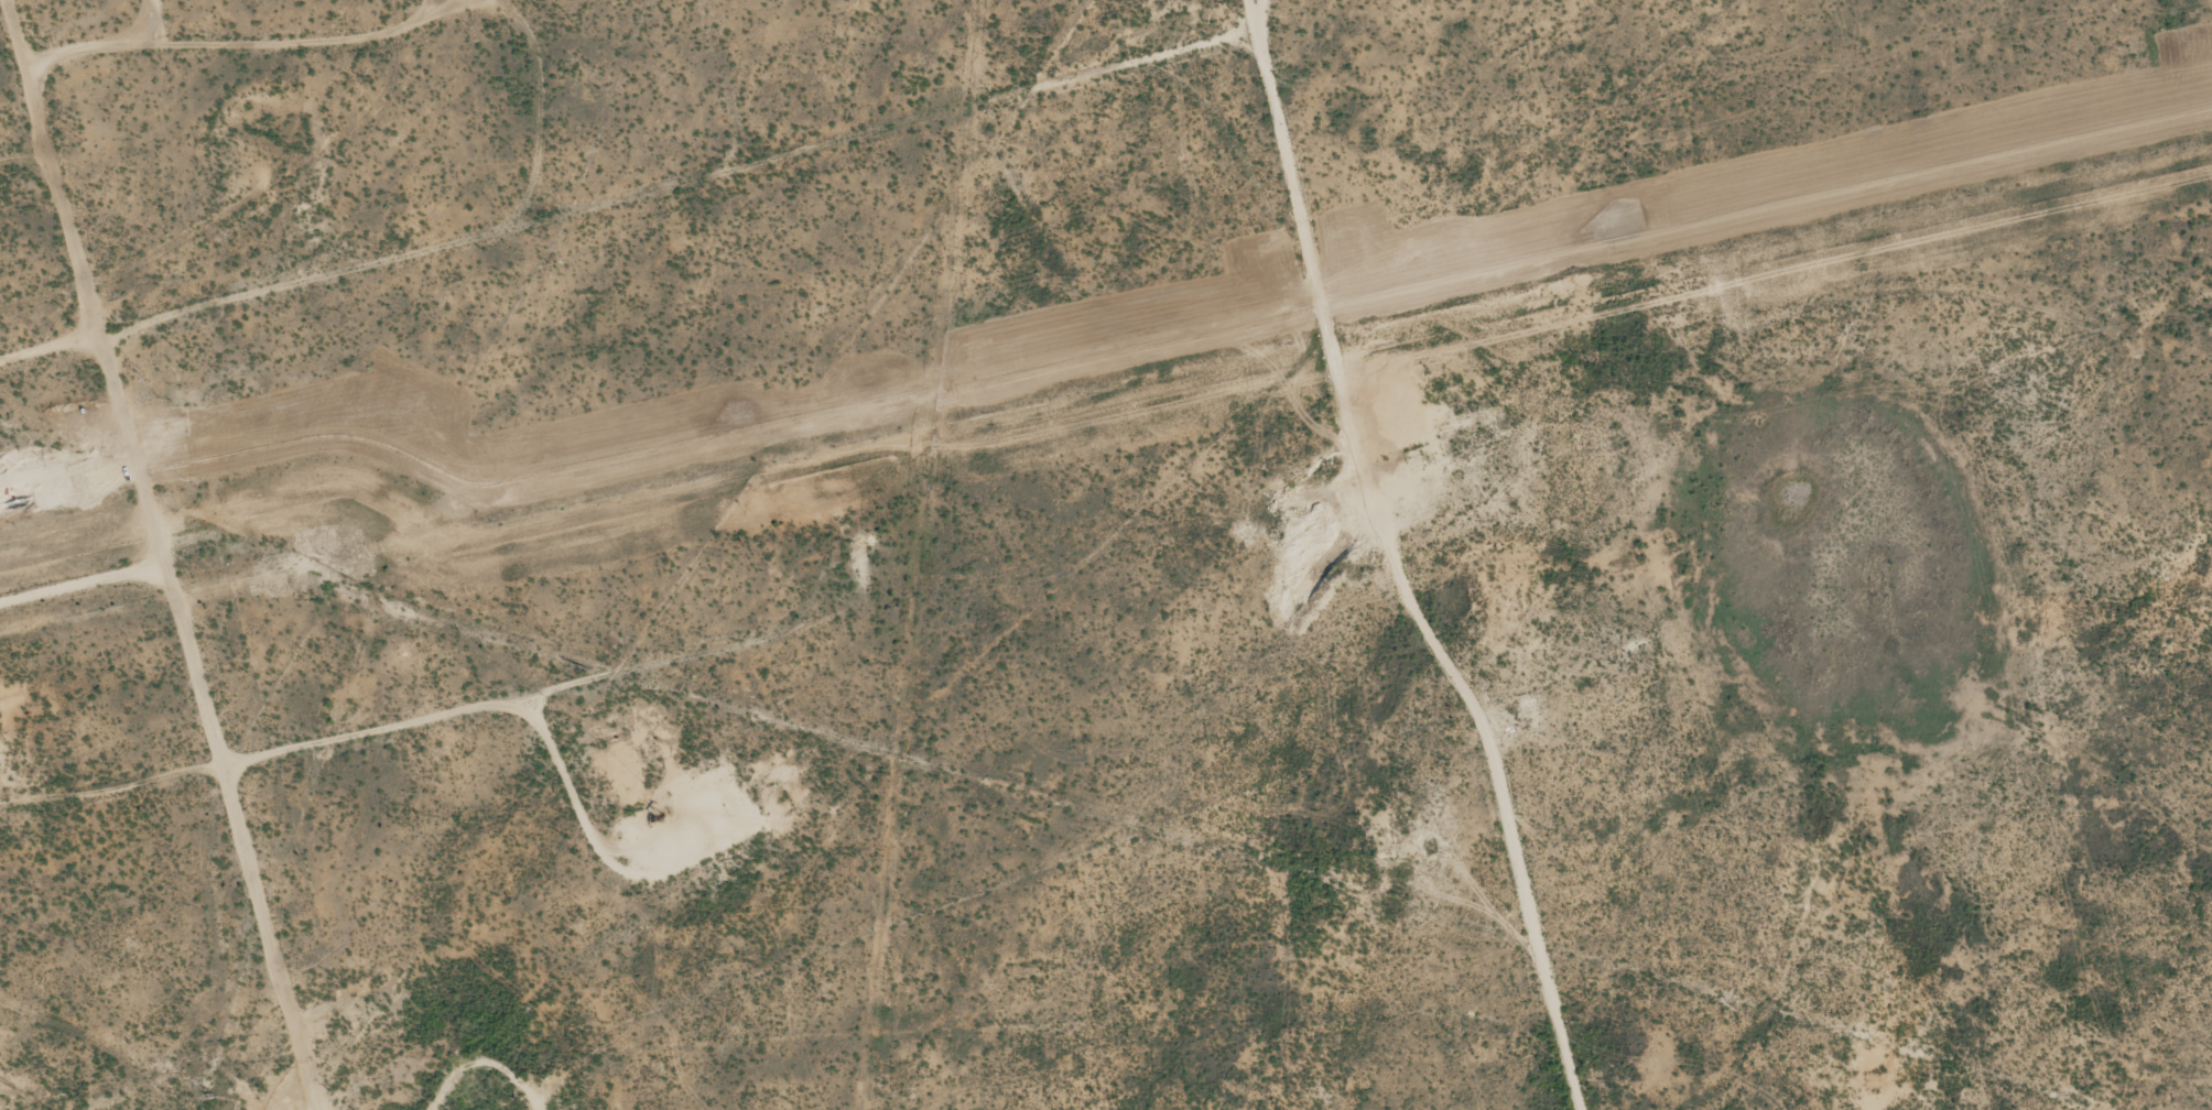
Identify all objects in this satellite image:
road: (174, 555)
river: (1449, 587)

